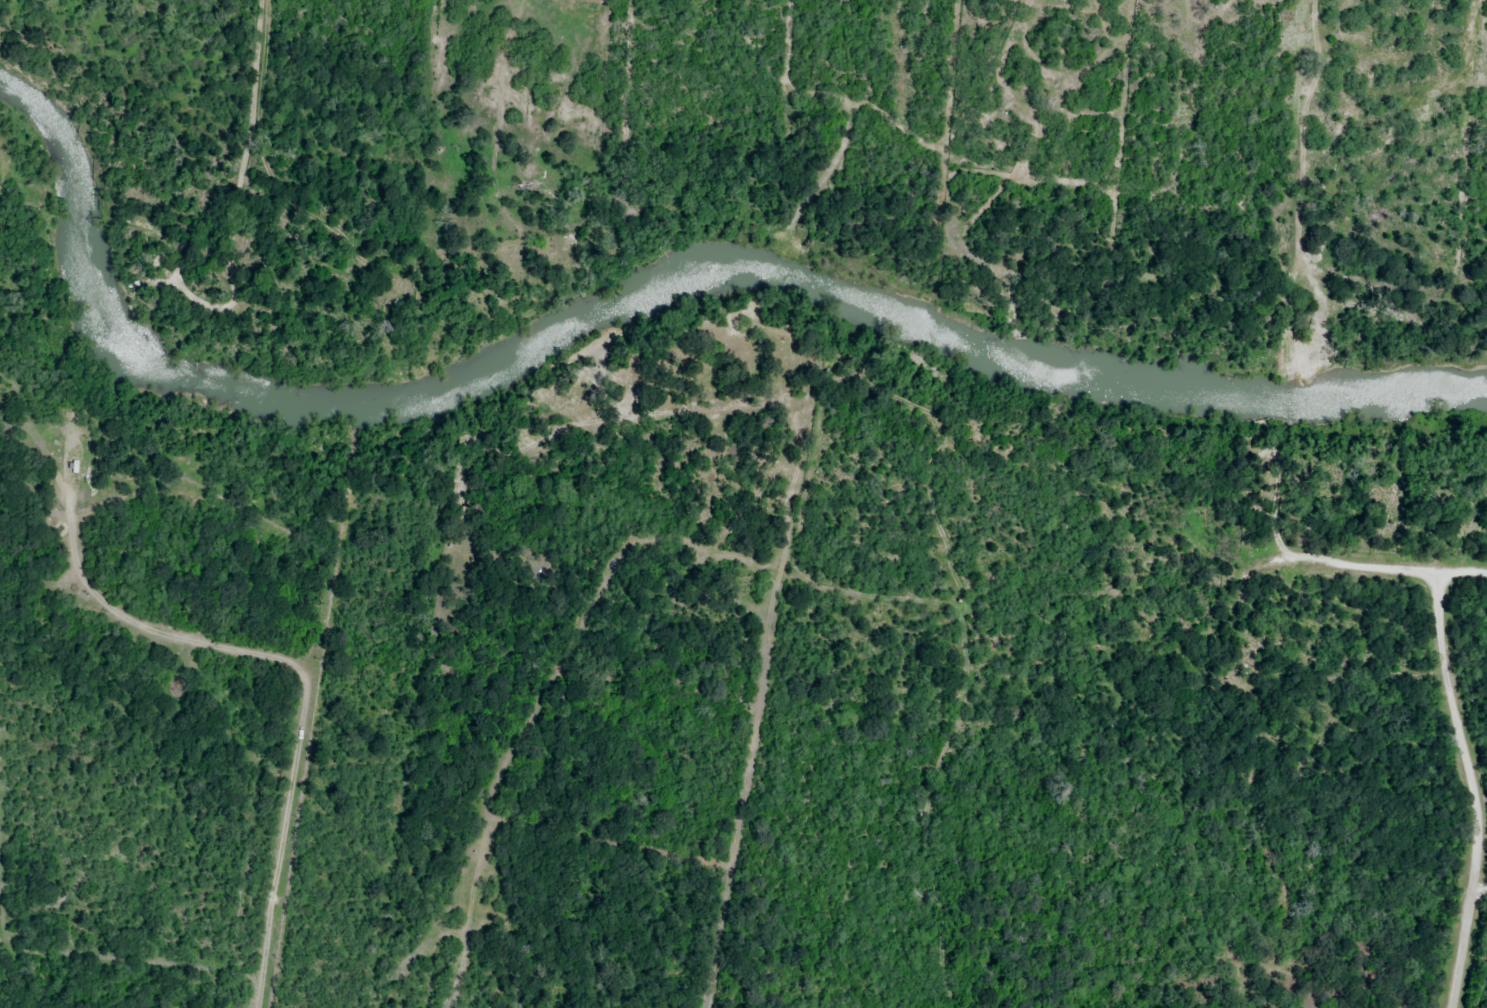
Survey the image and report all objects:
river: (652, 289)
road: (1378, 568)
road: (1473, 789)

